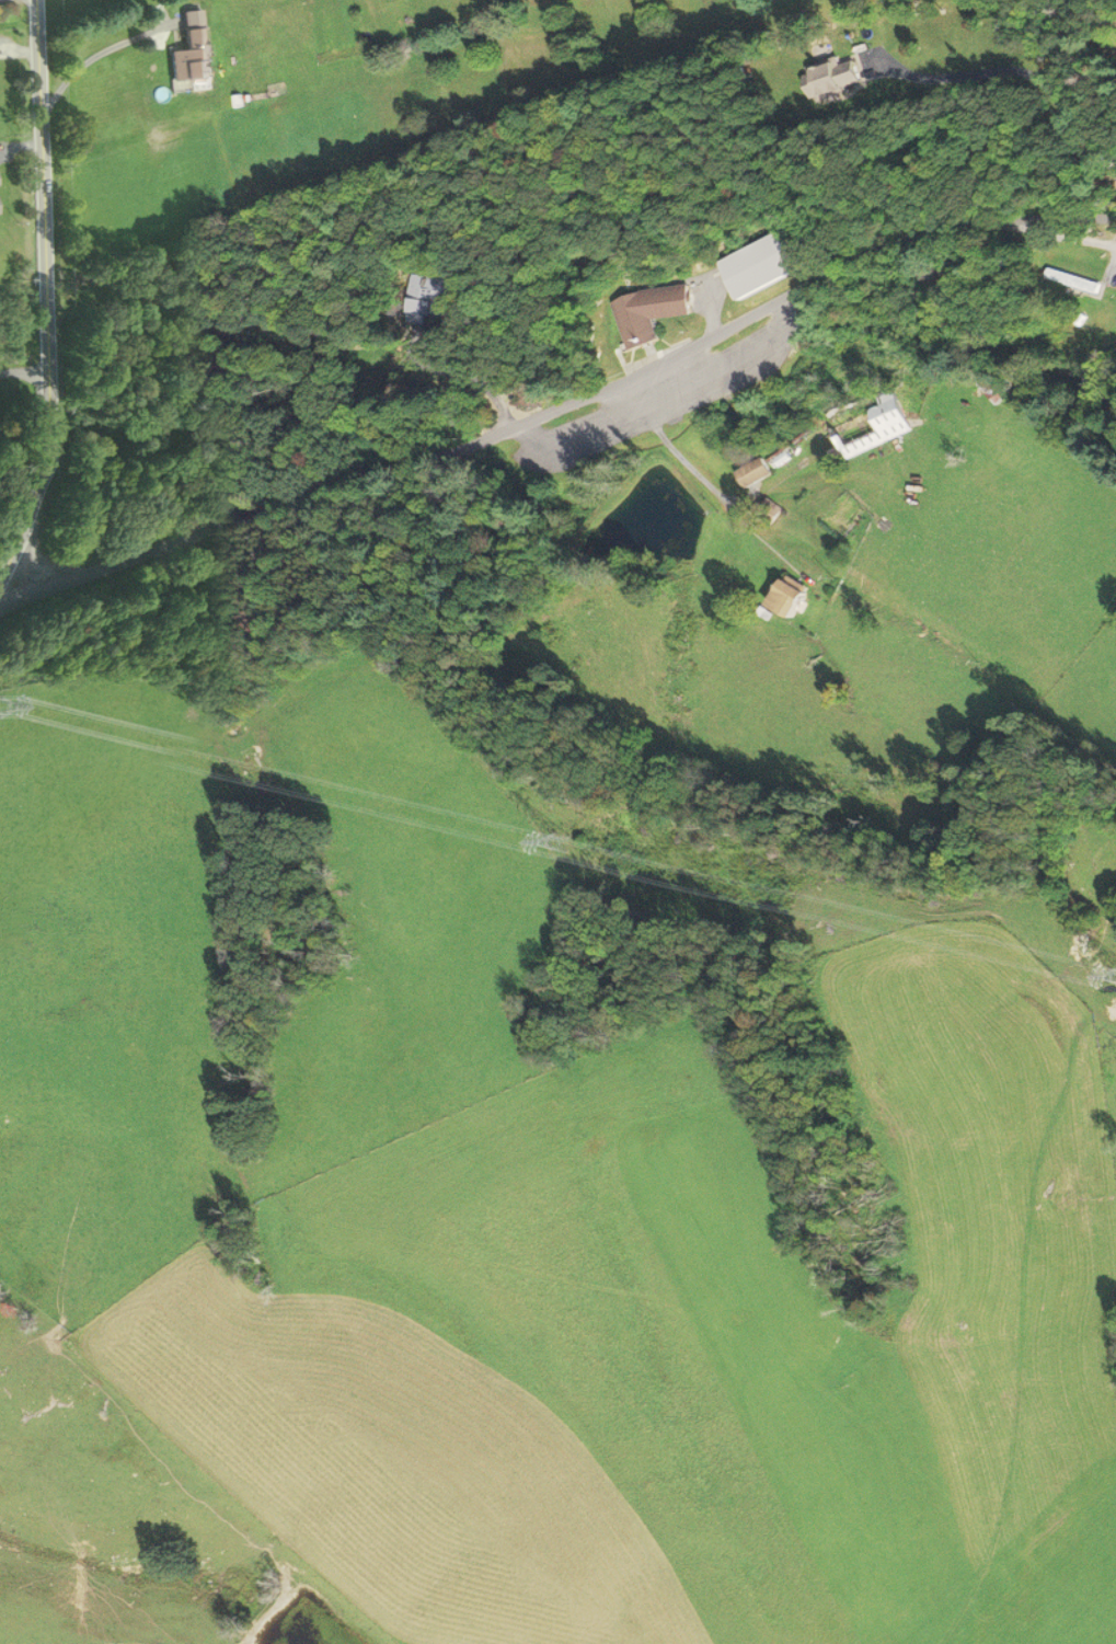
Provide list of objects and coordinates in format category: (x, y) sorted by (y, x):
building: (192, 50)
road: (1015, 70)
building: (832, 79)
road: (1057, 237)
building: (764, 264)
road: (42, 284)
building: (652, 309)
road: (22, 382)
building: (994, 388)
road: (567, 415)
building: (870, 423)
building: (755, 473)
building: (790, 596)
power tower: (564, 843)

